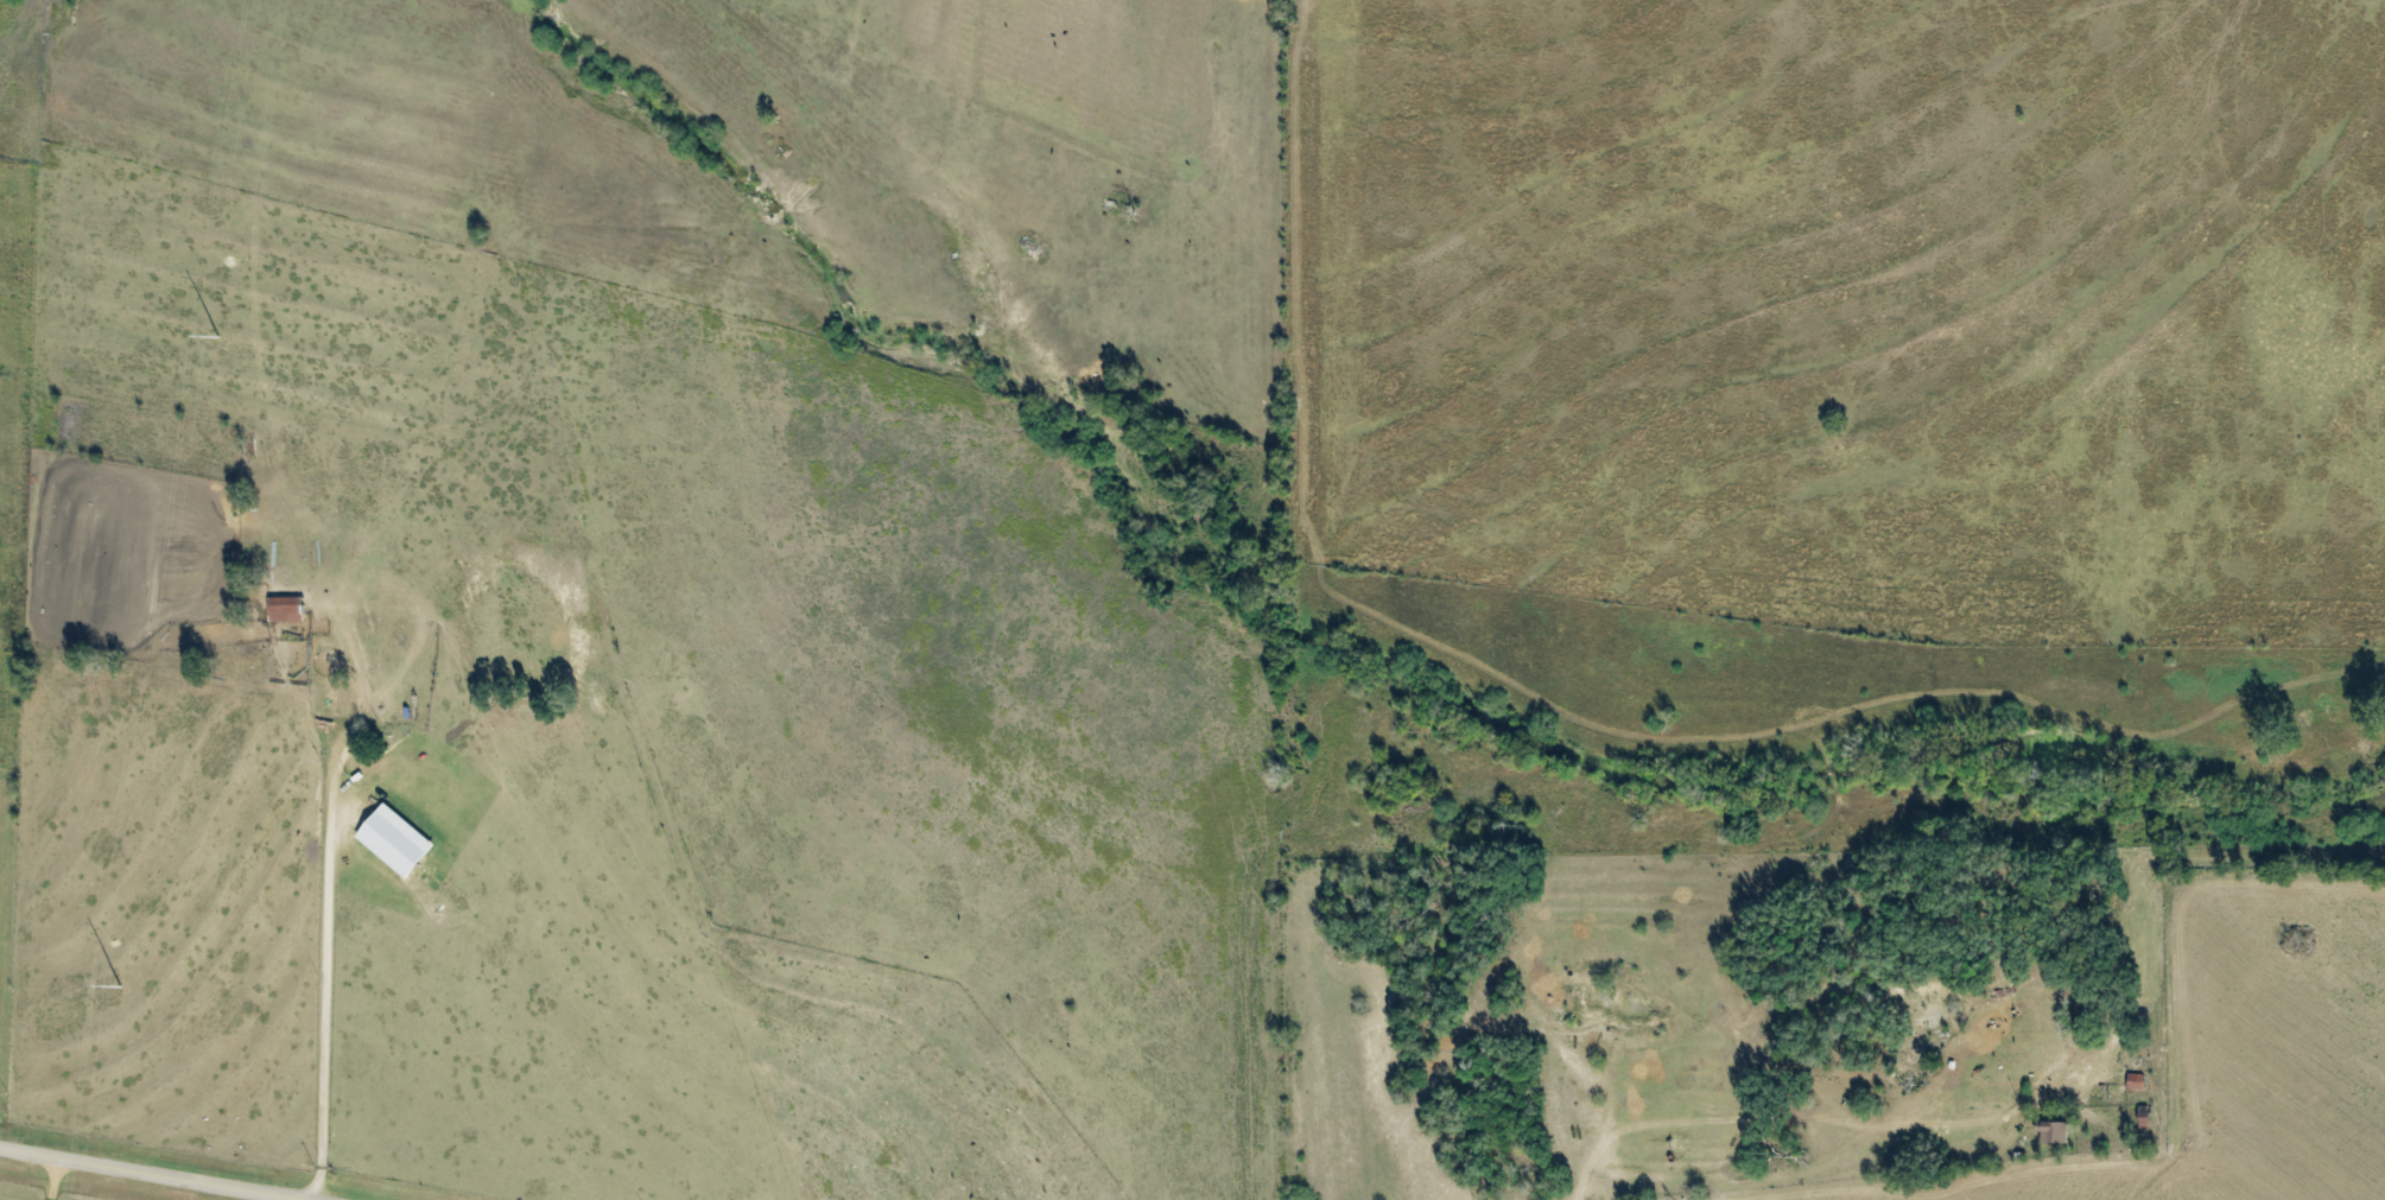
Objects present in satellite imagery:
power tower: (217, 338)
building: (285, 609)
building: (397, 837)
road: (326, 951)
power tower: (119, 988)
building: (2135, 1081)
road: (1794, 1151)
road: (147, 1172)

